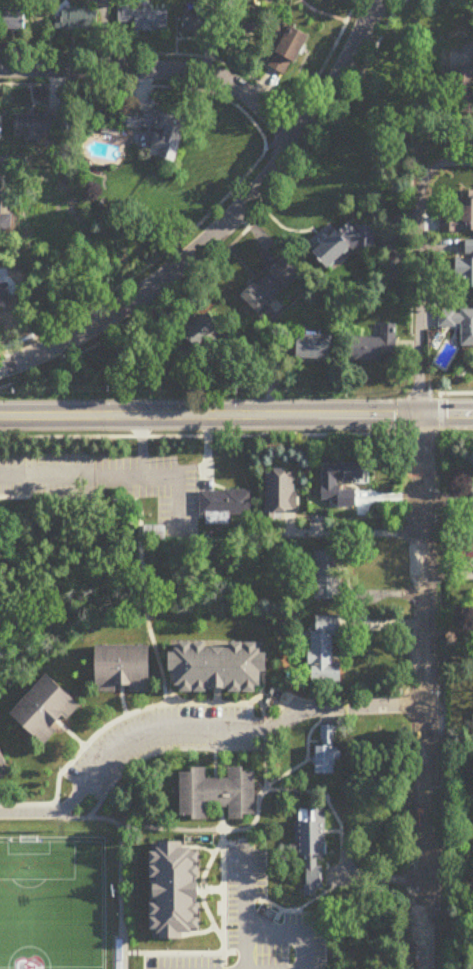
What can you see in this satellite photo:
building: (295, 0)
building: (142, 20)
building: (77, 21)
building: (14, 22)
building: (198, 22)
building: (296, 45)
road: (161, 72)
building: (456, 92)
building: (0, 125)
building: (38, 126)
building: (161, 133)
building: (2, 213)
building: (459, 220)
road: (230, 225)
building: (346, 245)
road: (421, 268)
building: (465, 269)
building: (267, 290)
building: (458, 324)
building: (203, 331)
building: (315, 348)
building: (376, 348)
road: (236, 418)
traffic signals: (421, 418)
road: (125, 437)
road: (140, 446)
building: (344, 470)
road: (116, 474)
road: (100, 492)
building: (282, 493)
building: (469, 501)
building: (224, 504)
road: (352, 534)
building: (471, 535)
building: (472, 558)
building: (327, 572)
road: (145, 599)
road: (387, 625)
building: (325, 648)
building: (215, 665)
building: (120, 666)
road: (425, 693)
road: (120, 700)
road: (222, 703)
building: (42, 707)
road: (260, 711)
road: (114, 720)
road: (198, 728)
road: (69, 734)
road: (216, 750)
building: (323, 750)
road: (305, 759)
road: (213, 763)
building: (3, 766)
building: (214, 791)
road: (28, 804)
road: (220, 818)
road: (168, 829)
building: (308, 846)
road: (340, 851)
road: (119, 866)
road: (378, 878)
building: (171, 889)
road: (200, 889)
road: (450, 889)
road: (220, 899)
park: (50, 905)
road: (245, 905)
road: (294, 931)
road: (185, 953)

